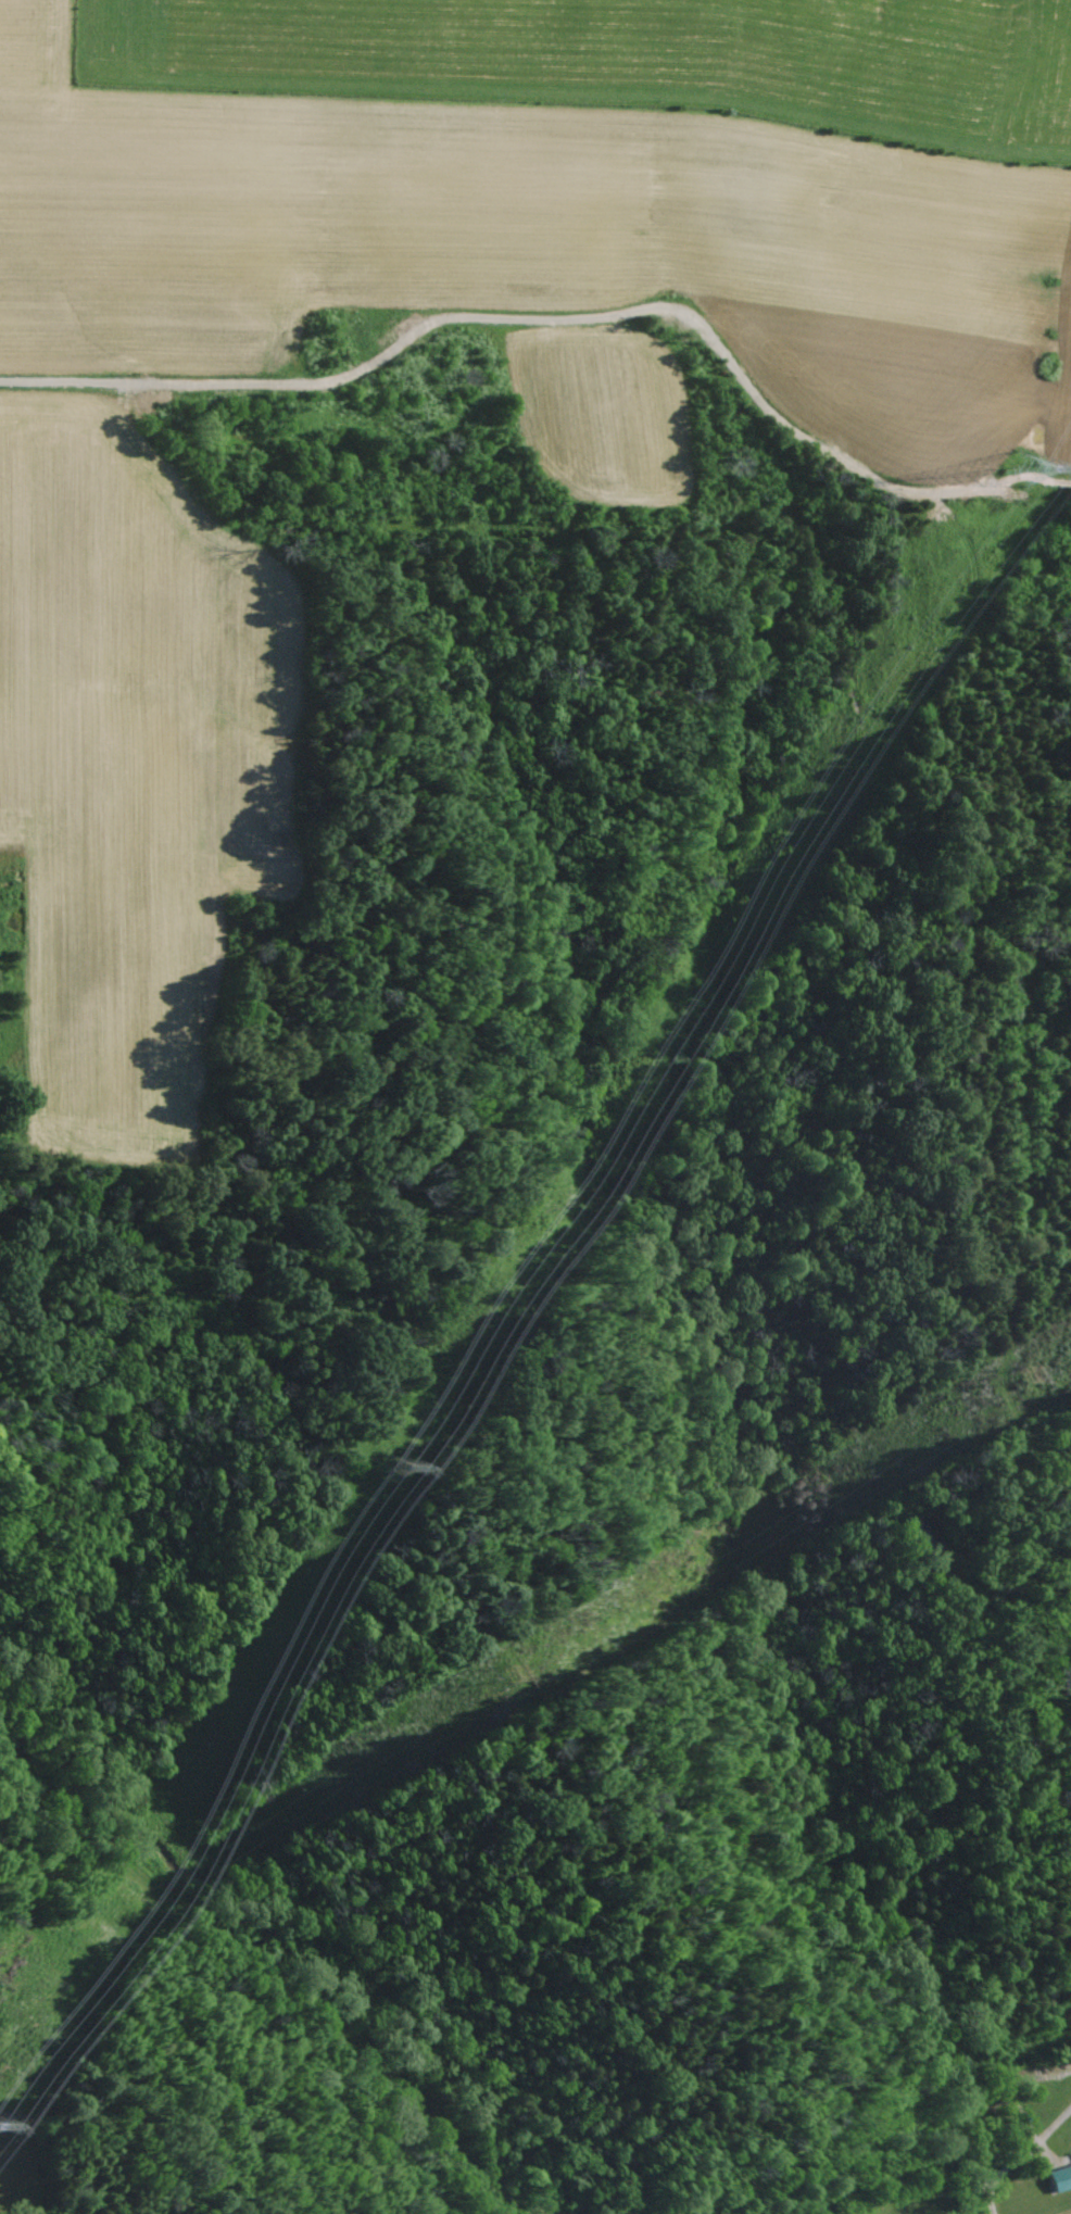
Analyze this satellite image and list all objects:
power tower: (1020, 471)
power tower: (1024, 1376)
power tower: (386, 1471)
building: (1059, 2179)

